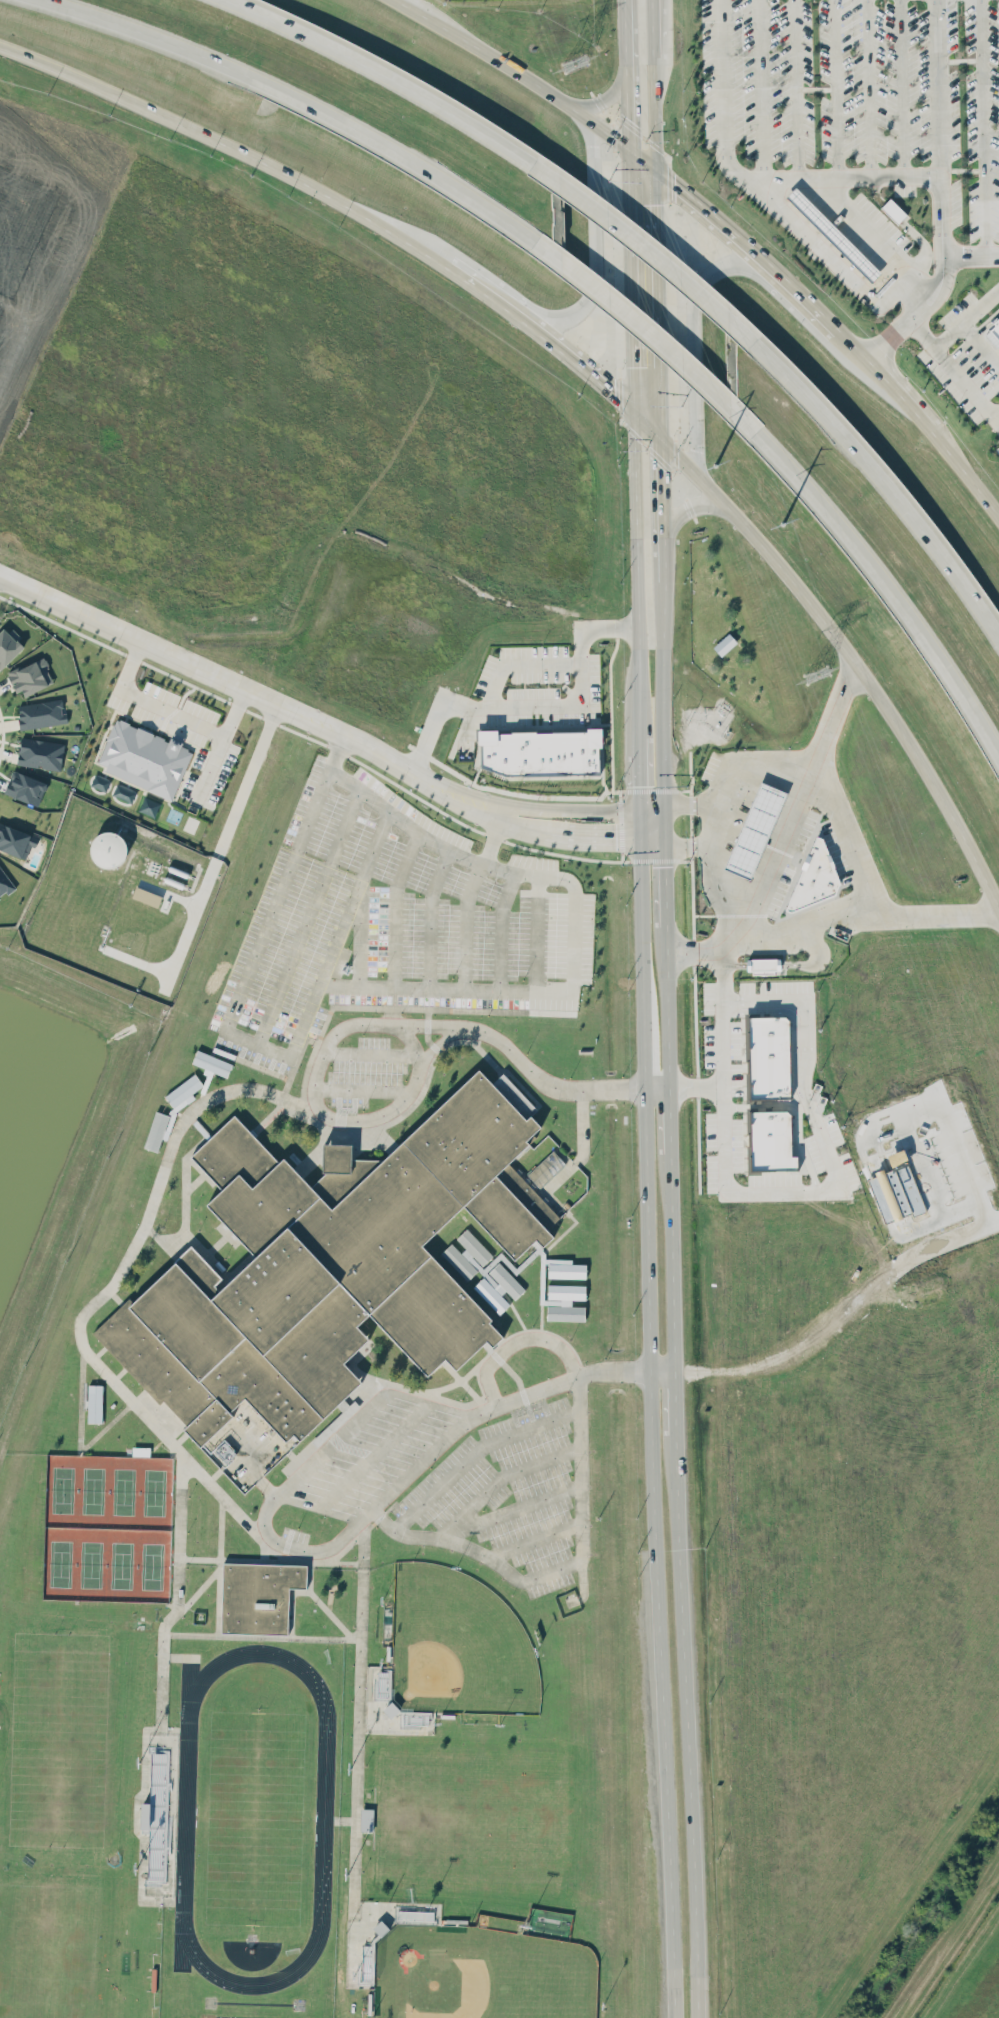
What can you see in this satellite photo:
road: (649, 32)
power tower: (567, 64)
road: (516, 72)
road: (384, 75)
road: (91, 83)
road: (868, 88)
road: (902, 88)
road: (793, 89)
road: (835, 89)
road: (760, 90)
parking lot: (858, 92)
road: (299, 98)
road: (604, 98)
road: (651, 114)
road: (981, 126)
road: (632, 150)
road: (642, 157)
road: (749, 175)
road: (314, 190)
road: (939, 193)
road: (653, 214)
building: (894, 215)
road: (720, 221)
road: (589, 228)
building: (833, 234)
gas station: (832, 235)
road: (866, 238)
road: (648, 249)
road: (970, 253)
road: (829, 256)
road: (721, 270)
road: (469, 282)
road: (510, 313)
road: (638, 317)
road: (961, 317)
building: (993, 333)
road: (633, 357)
traffic signals: (633, 364)
road: (579, 368)
road: (949, 370)
road: (898, 394)
traffic signals: (615, 398)
road: (996, 417)
traffic signals: (656, 465)
road: (885, 485)
road: (680, 501)
road: (659, 536)
road: (637, 565)
road: (876, 572)
road: (59, 623)
building: (724, 643)
road: (840, 643)
building: (8, 645)
road: (132, 655)
road: (511, 664)
power tower: (815, 675)
building: (31, 676)
road: (185, 680)
road: (249, 694)
road: (529, 706)
building: (38, 710)
road: (255, 712)
road: (161, 720)
building: (540, 745)
building: (37, 750)
building: (143, 756)
road: (641, 762)
road: (803, 763)
road: (246, 777)
traffic signals: (642, 784)
building: (25, 787)
building: (149, 806)
road: (569, 806)
road: (652, 806)
road: (684, 806)
traffic signals: (695, 806)
road: (406, 818)
road: (455, 819)
road: (641, 821)
road: (520, 824)
road: (664, 824)
road: (707, 825)
building: (754, 830)
road: (593, 832)
traffic signals: (616, 832)
building: (15, 837)
road: (839, 839)
road: (653, 840)
road: (779, 845)
road: (686, 846)
building: (107, 849)
traffic signals: (664, 867)
building: (812, 878)
building: (5, 881)
road: (664, 882)
building: (146, 896)
road: (349, 897)
road: (857, 916)
parking lot: (369, 922)
road: (731, 925)
building: (763, 964)
road: (724, 969)
road: (397, 990)
road: (665, 1003)
road: (343, 1024)
building: (768, 1057)
building: (212, 1062)
parking lot: (364, 1073)
road: (656, 1085)
road: (283, 1087)
building: (170, 1111)
road: (667, 1121)
building: (770, 1140)
road: (825, 1143)
building: (545, 1168)
road: (962, 1171)
road: (670, 1263)
building: (322, 1270)
building: (504, 1270)
building: (565, 1302)
road: (80, 1313)
road: (514, 1343)
building: (94, 1403)
road: (673, 1407)
road: (651, 1427)
road: (346, 1429)
parking lot: (242, 1450)
building: (223, 1452)
road: (374, 1454)
parking lot: (461, 1474)
park: (65, 1492)
park: (94, 1492)
park: (125, 1494)
park: (157, 1496)
park: (110, 1530)
park: (63, 1565)
park: (94, 1567)
park: (124, 1568)
park: (154, 1568)
road: (554, 1568)
building: (258, 1596)
park: (458, 1648)
road: (359, 1707)
building: (390, 1709)
road: (685, 1731)
park: (61, 1740)
building: (156, 1814)
stadium: (156, 1819)
building: (366, 1819)
track: (323, 1820)
park: (256, 1821)
park: (486, 1826)
park: (52, 1951)
park: (481, 1974)

